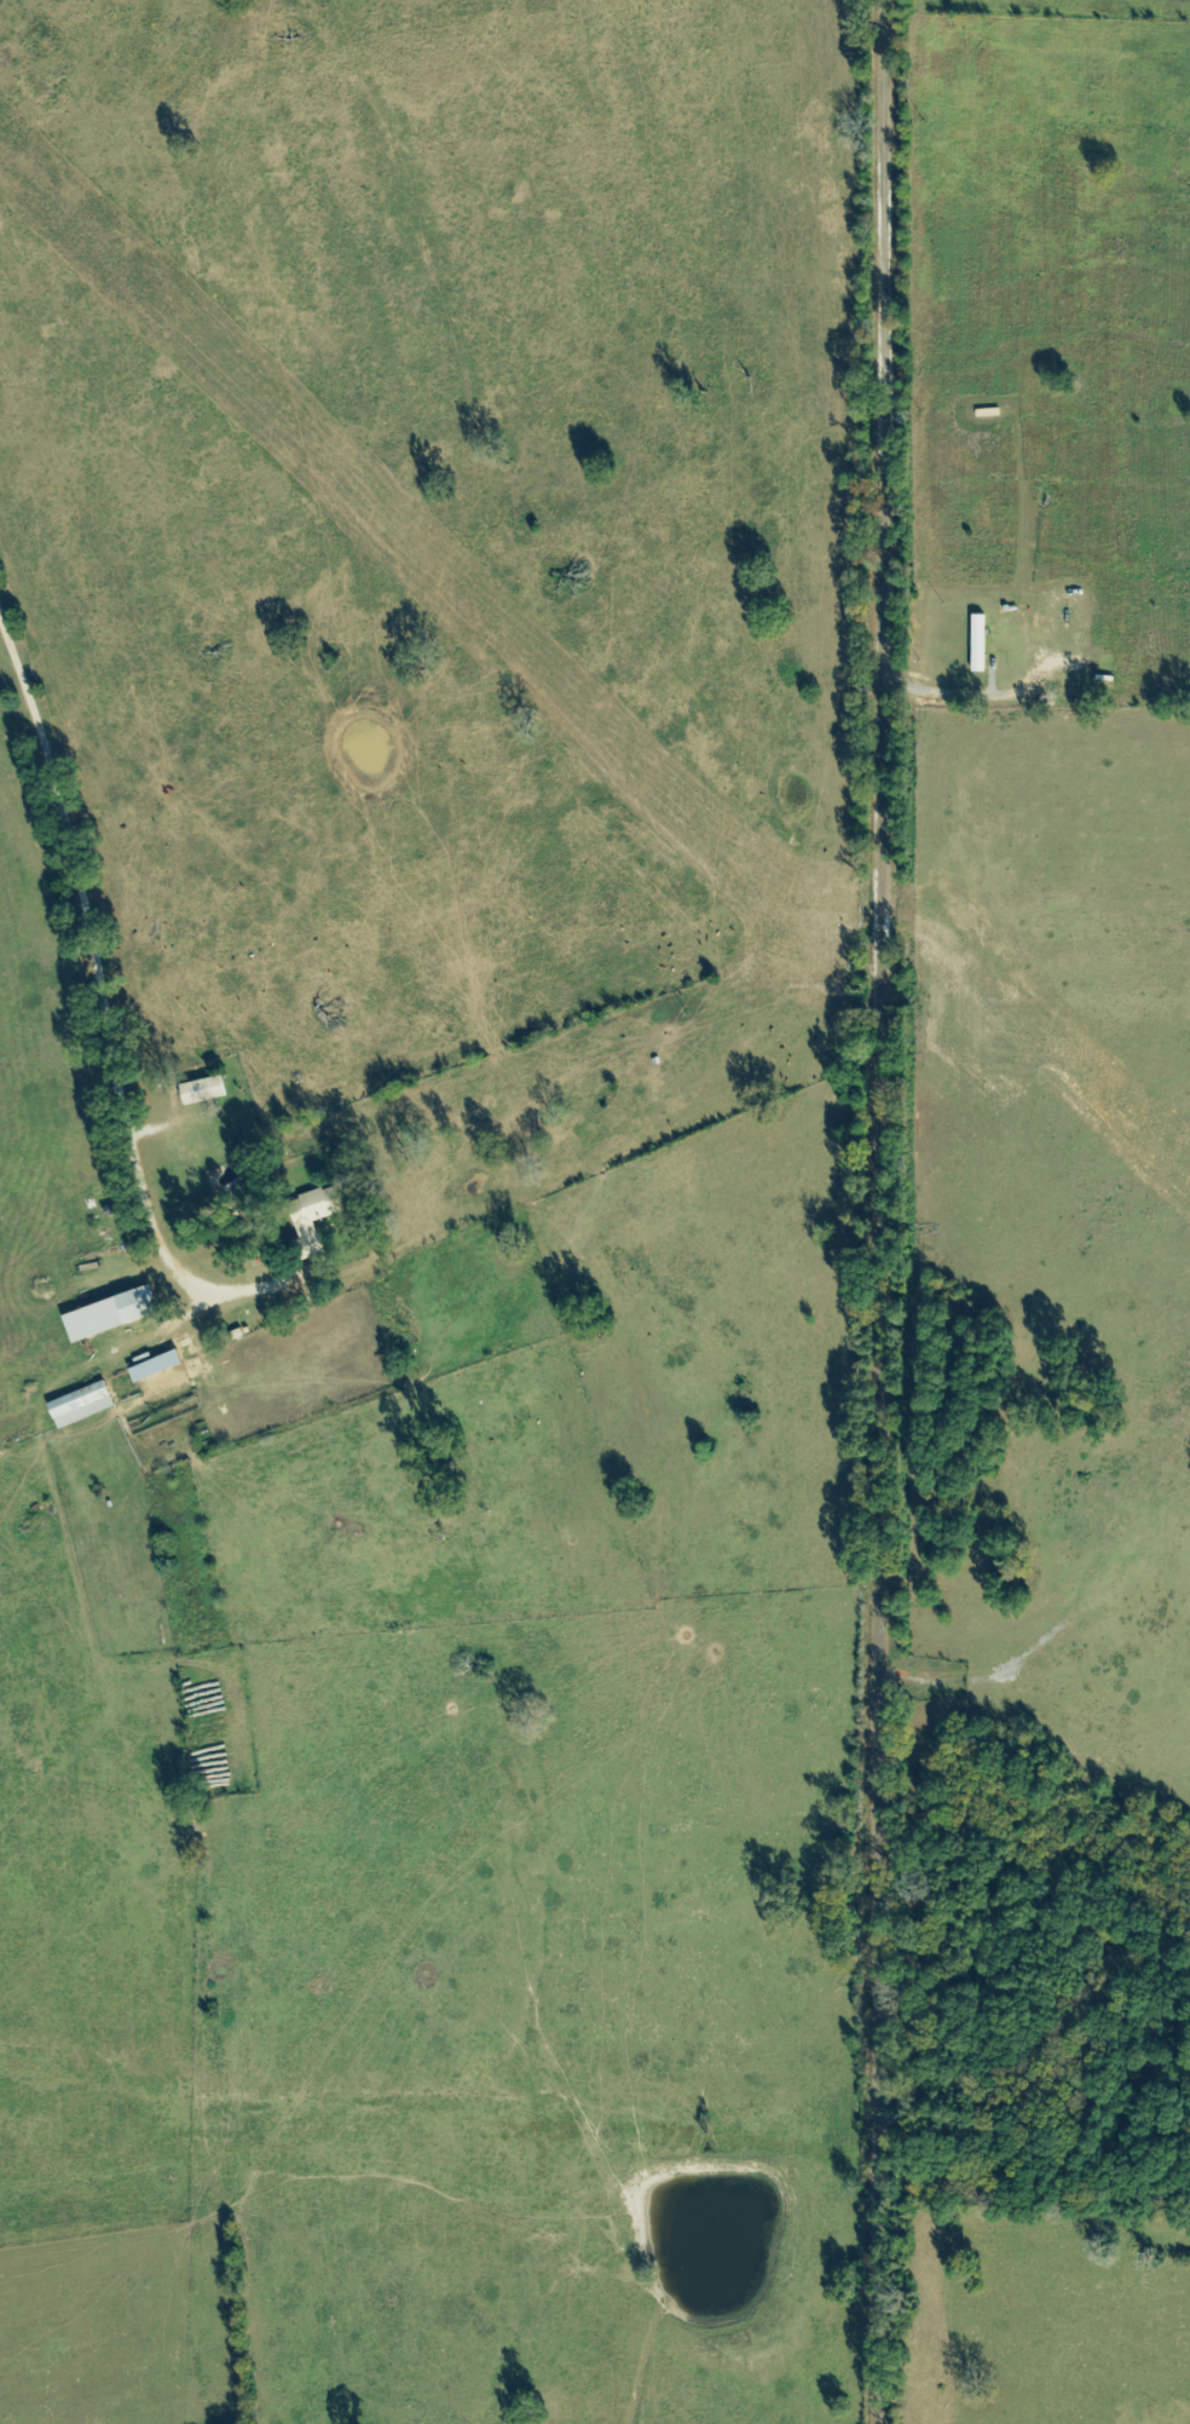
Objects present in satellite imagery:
building: (981, 644)
road: (81, 917)
building: (206, 1092)
road: (889, 1211)
building: (317, 1219)
building: (115, 1315)
building: (160, 1368)
building: (85, 1406)

